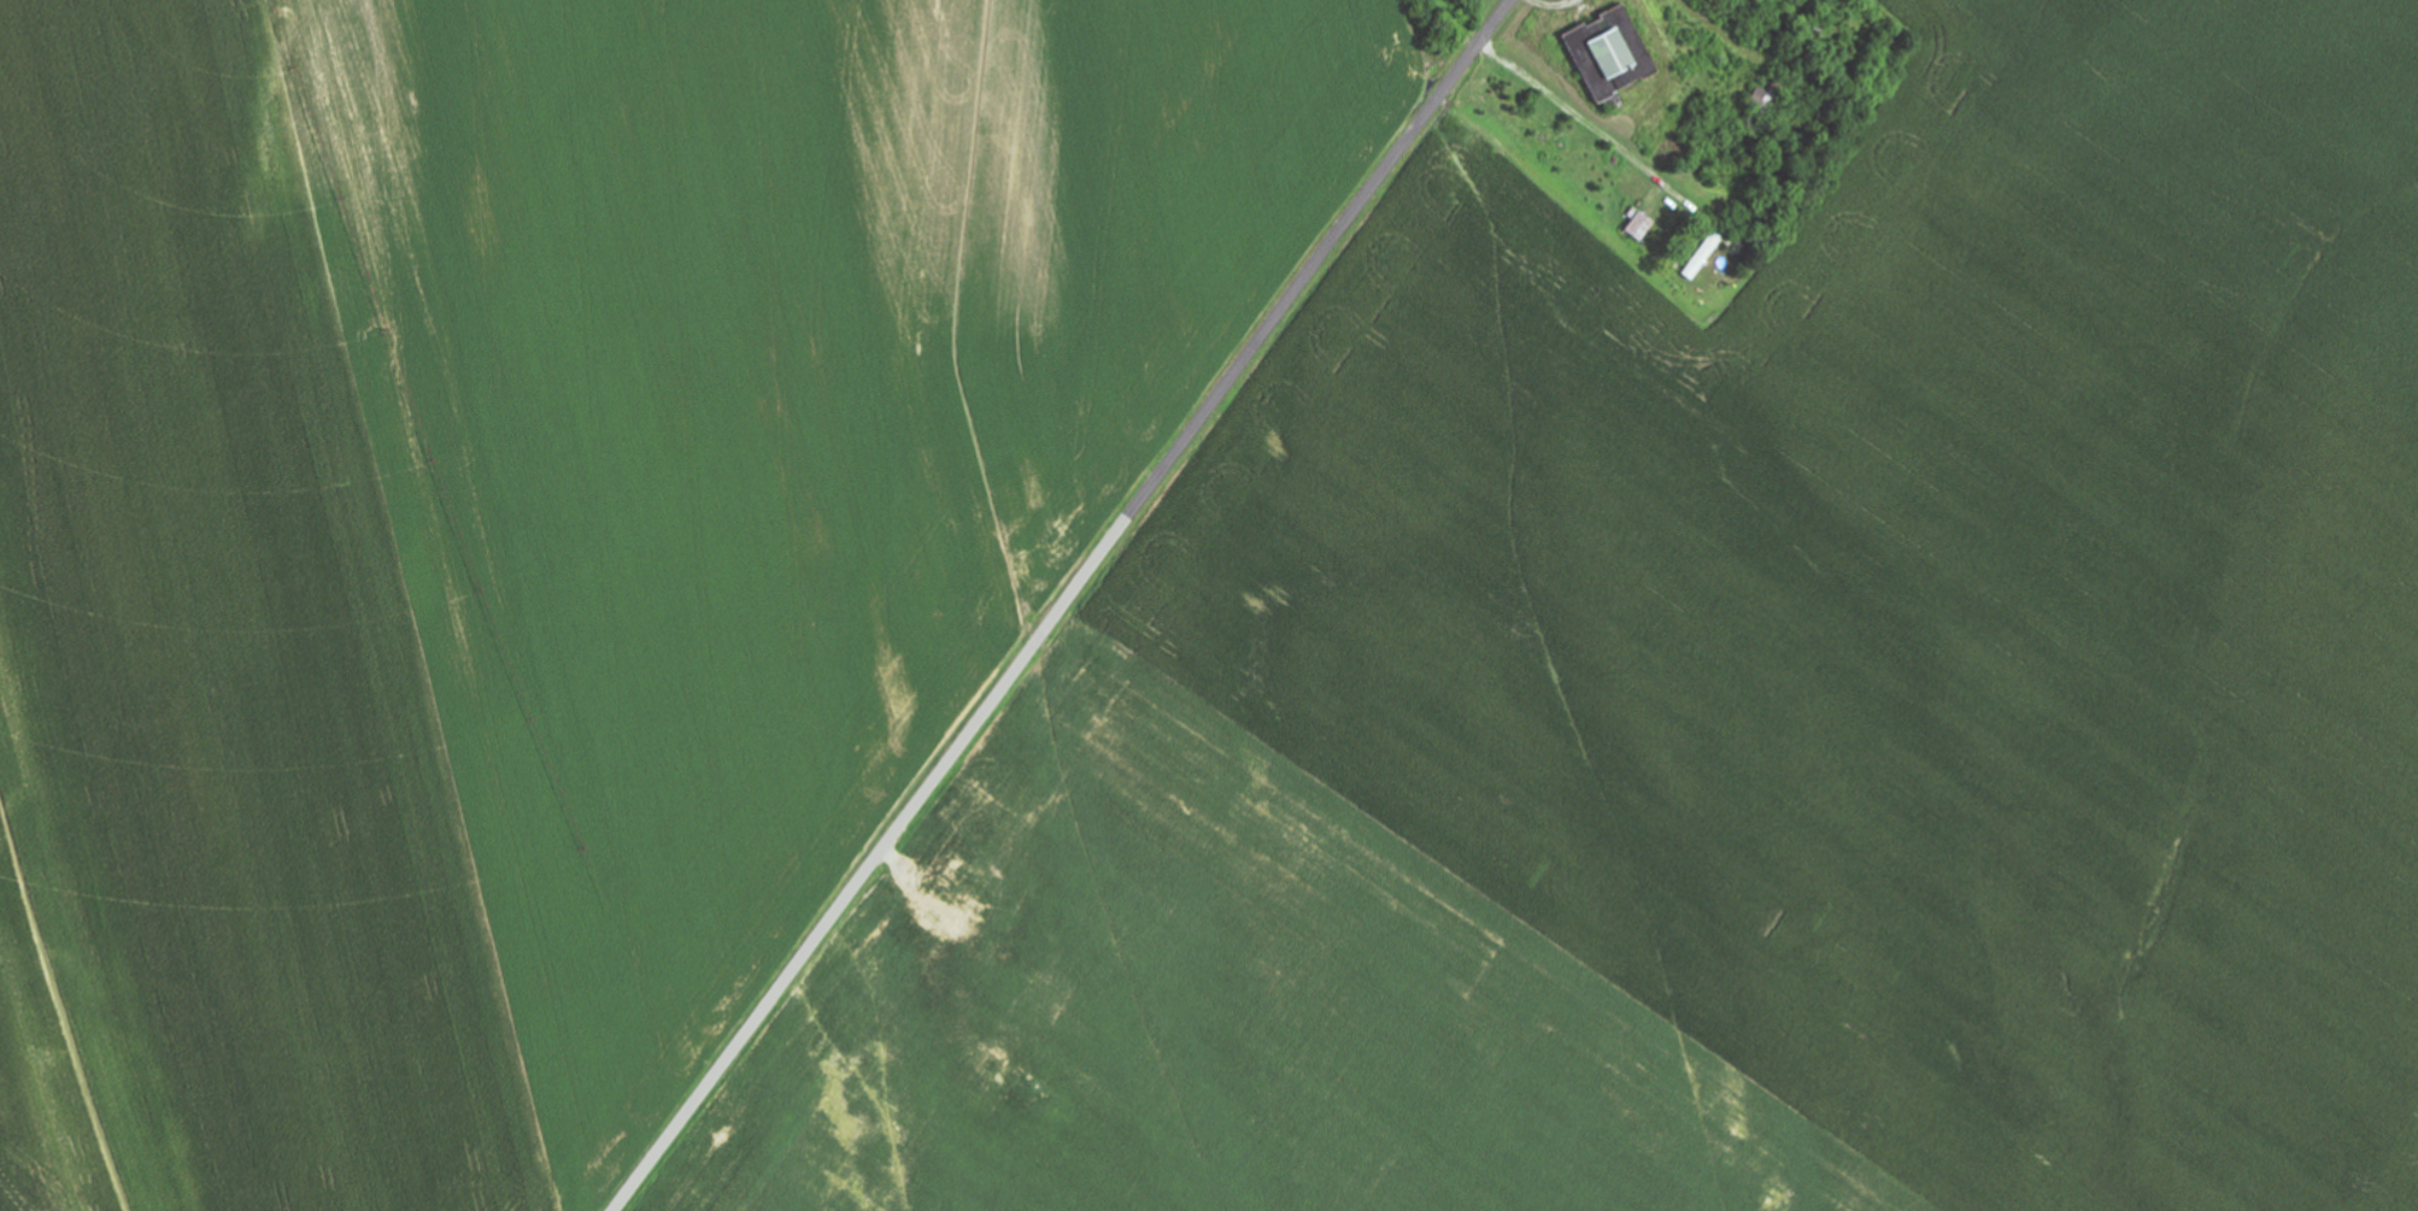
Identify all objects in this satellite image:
road: (1591, 124)
road: (1061, 606)

